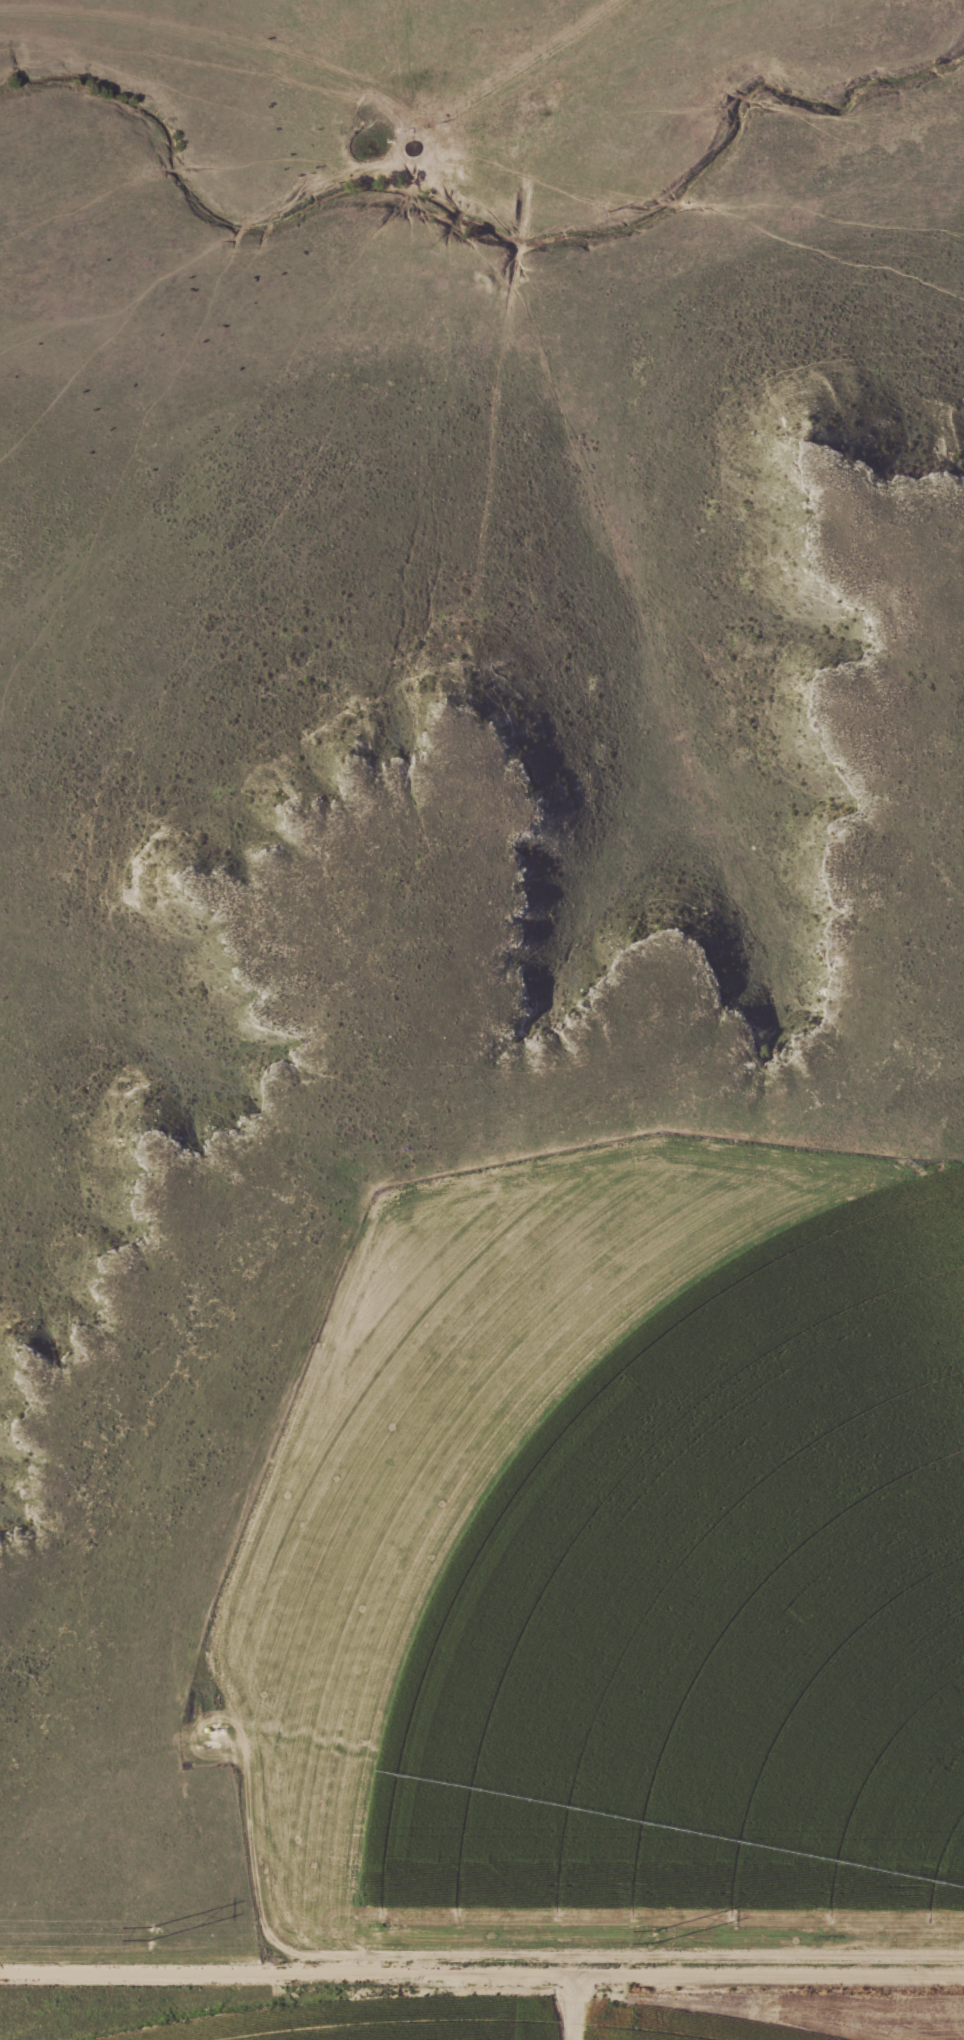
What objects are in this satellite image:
power tower: (149, 1934)
power tower: (655, 1935)

